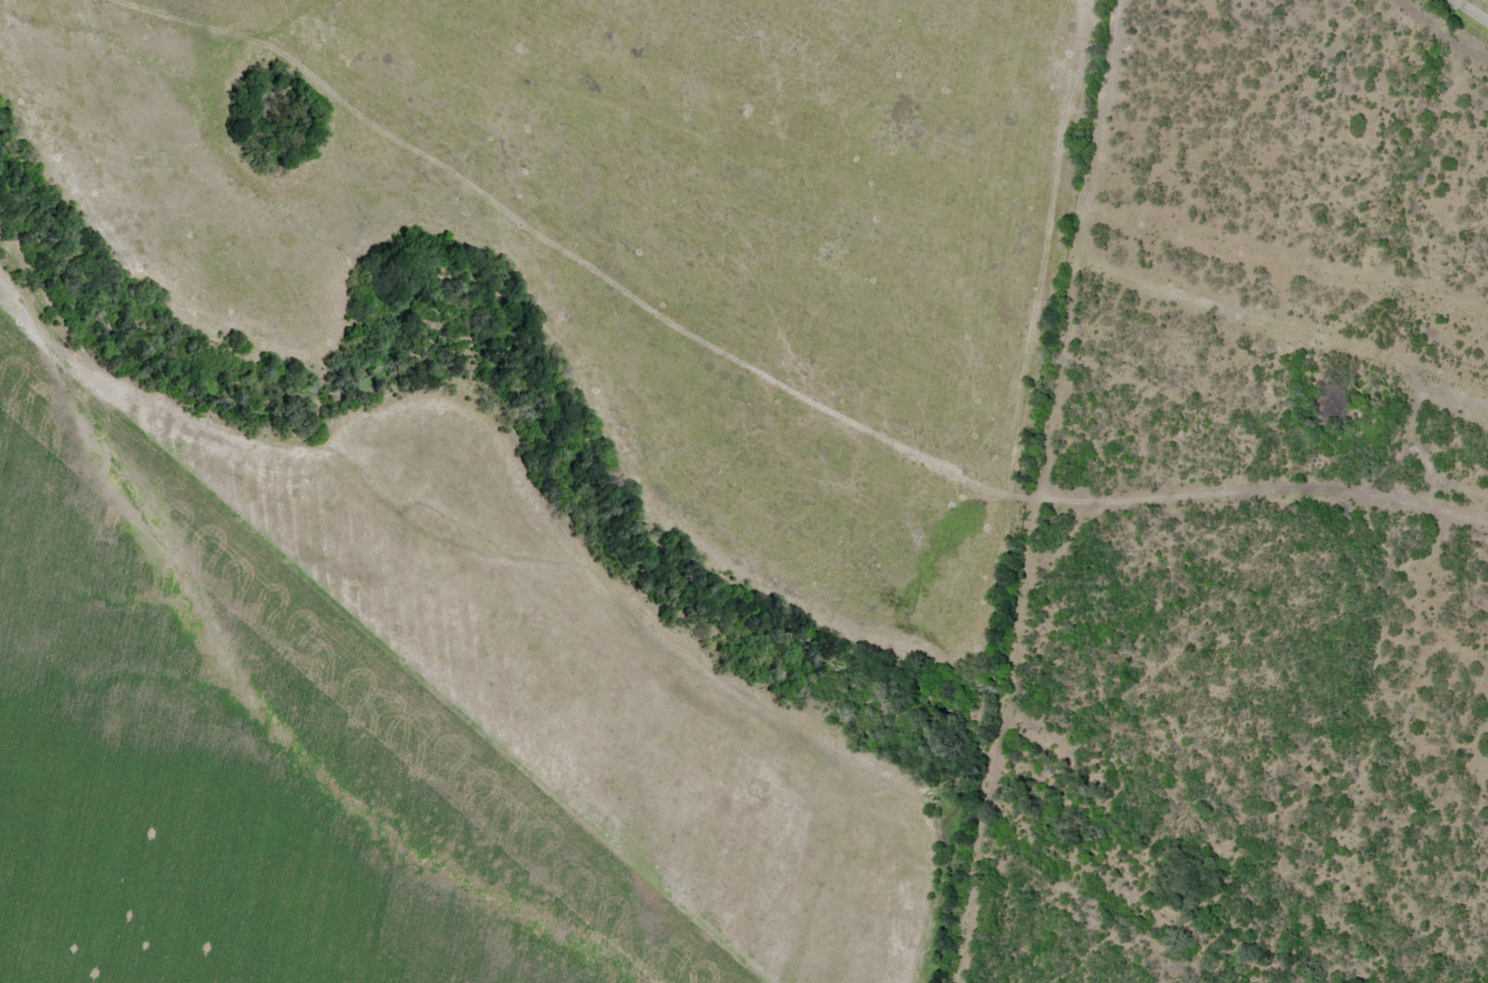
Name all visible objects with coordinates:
road: (1472, 10)

